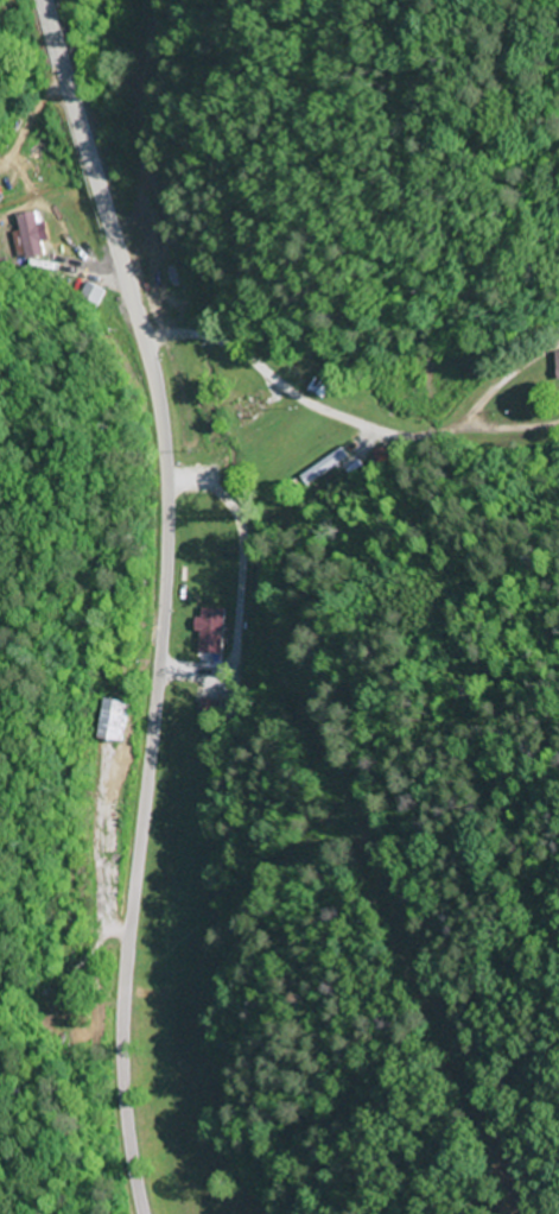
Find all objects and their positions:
building: (32, 235)
road: (63, 329)
building: (558, 359)
building: (253, 407)
road: (341, 429)
building: (386, 455)
building: (335, 466)
road: (163, 601)
building: (117, 720)

